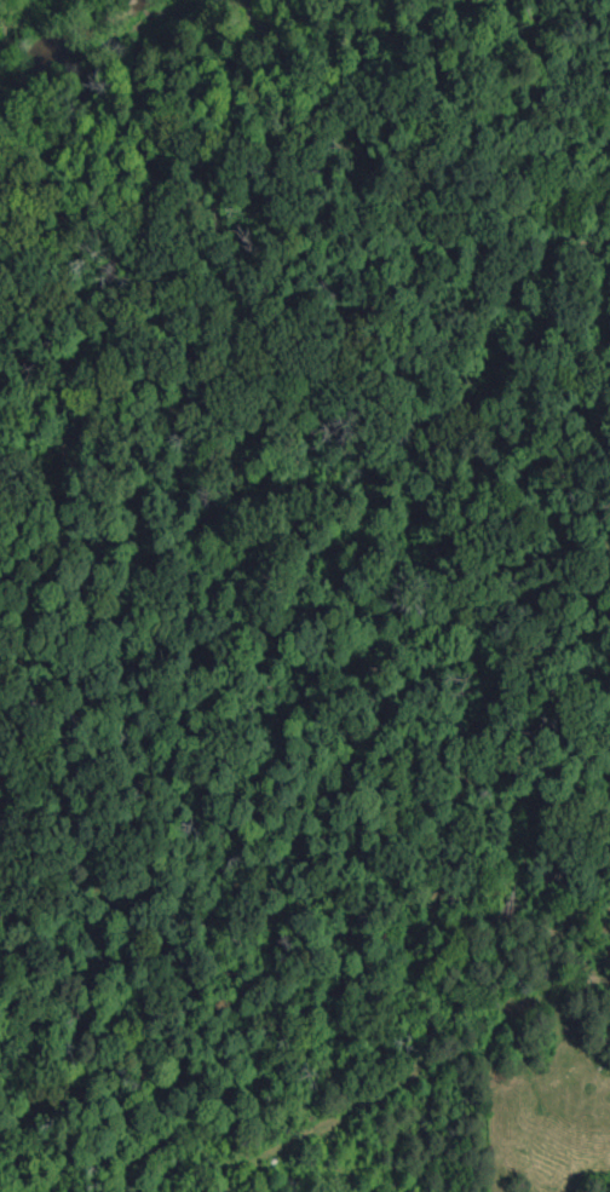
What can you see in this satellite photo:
river: (104, 46)

